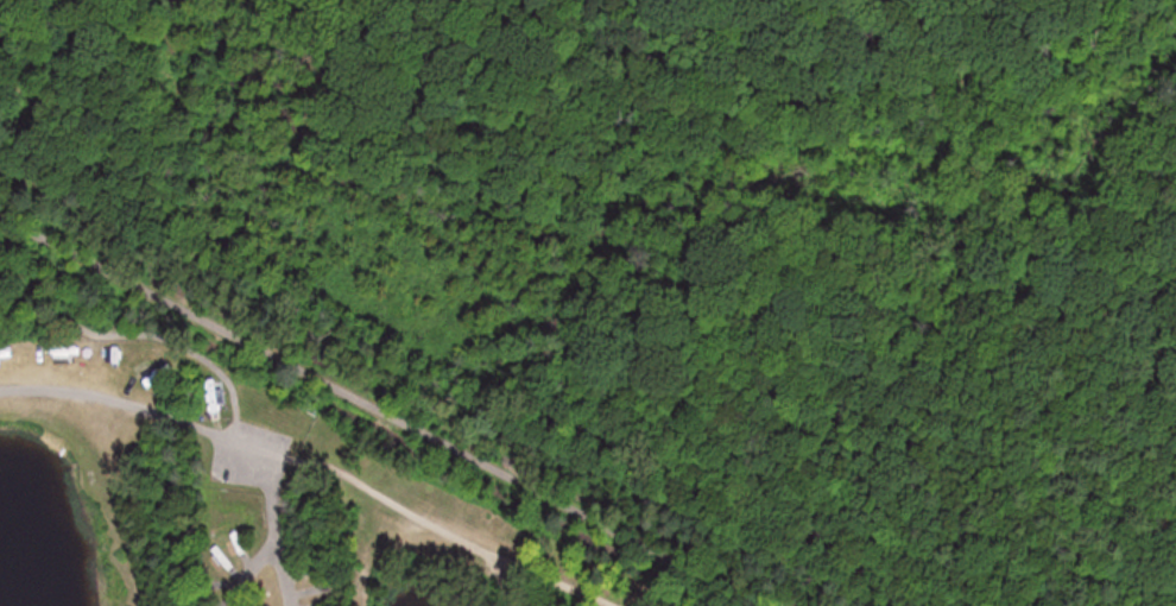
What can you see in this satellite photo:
park: (742, 147)
road: (158, 335)
road: (381, 411)
road: (183, 421)
road: (246, 570)
road: (283, 575)

